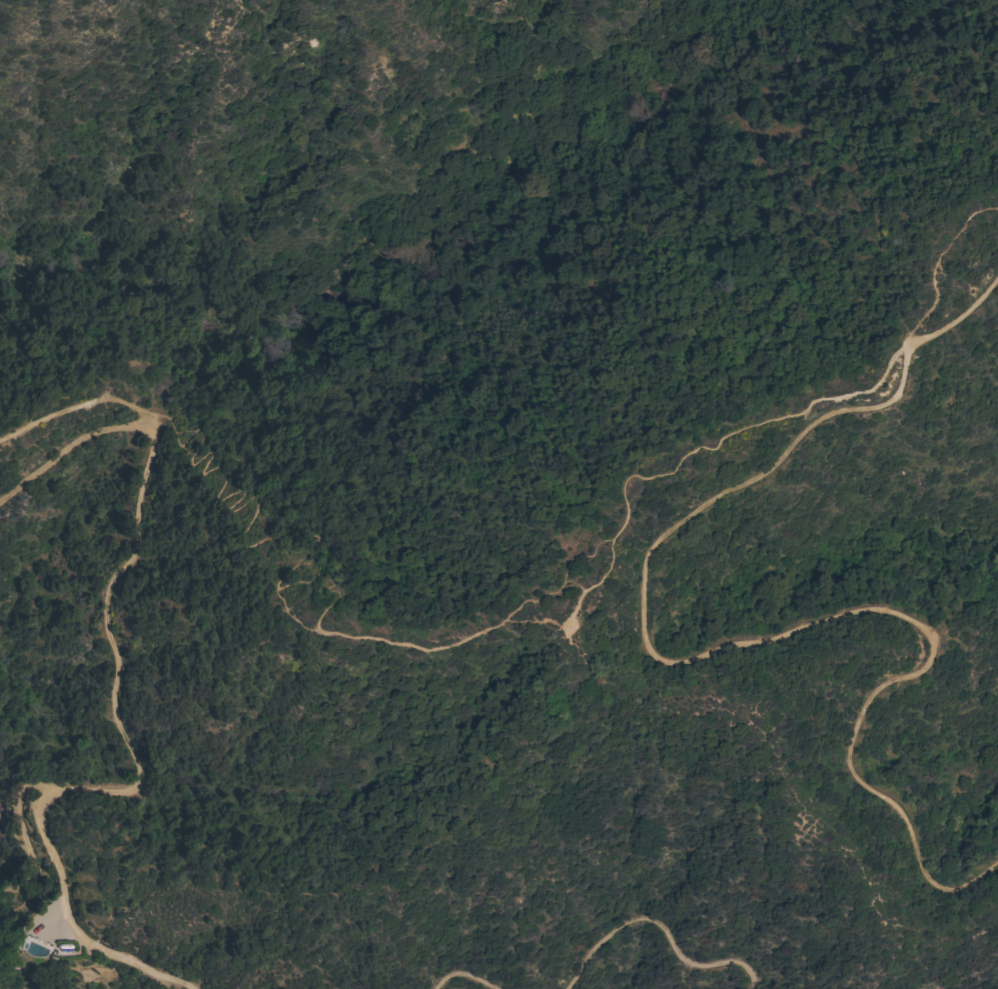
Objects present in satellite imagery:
road: (75, 408)
road: (607, 568)
road: (709, 653)
road: (116, 696)
road: (662, 929)
road: (465, 975)

